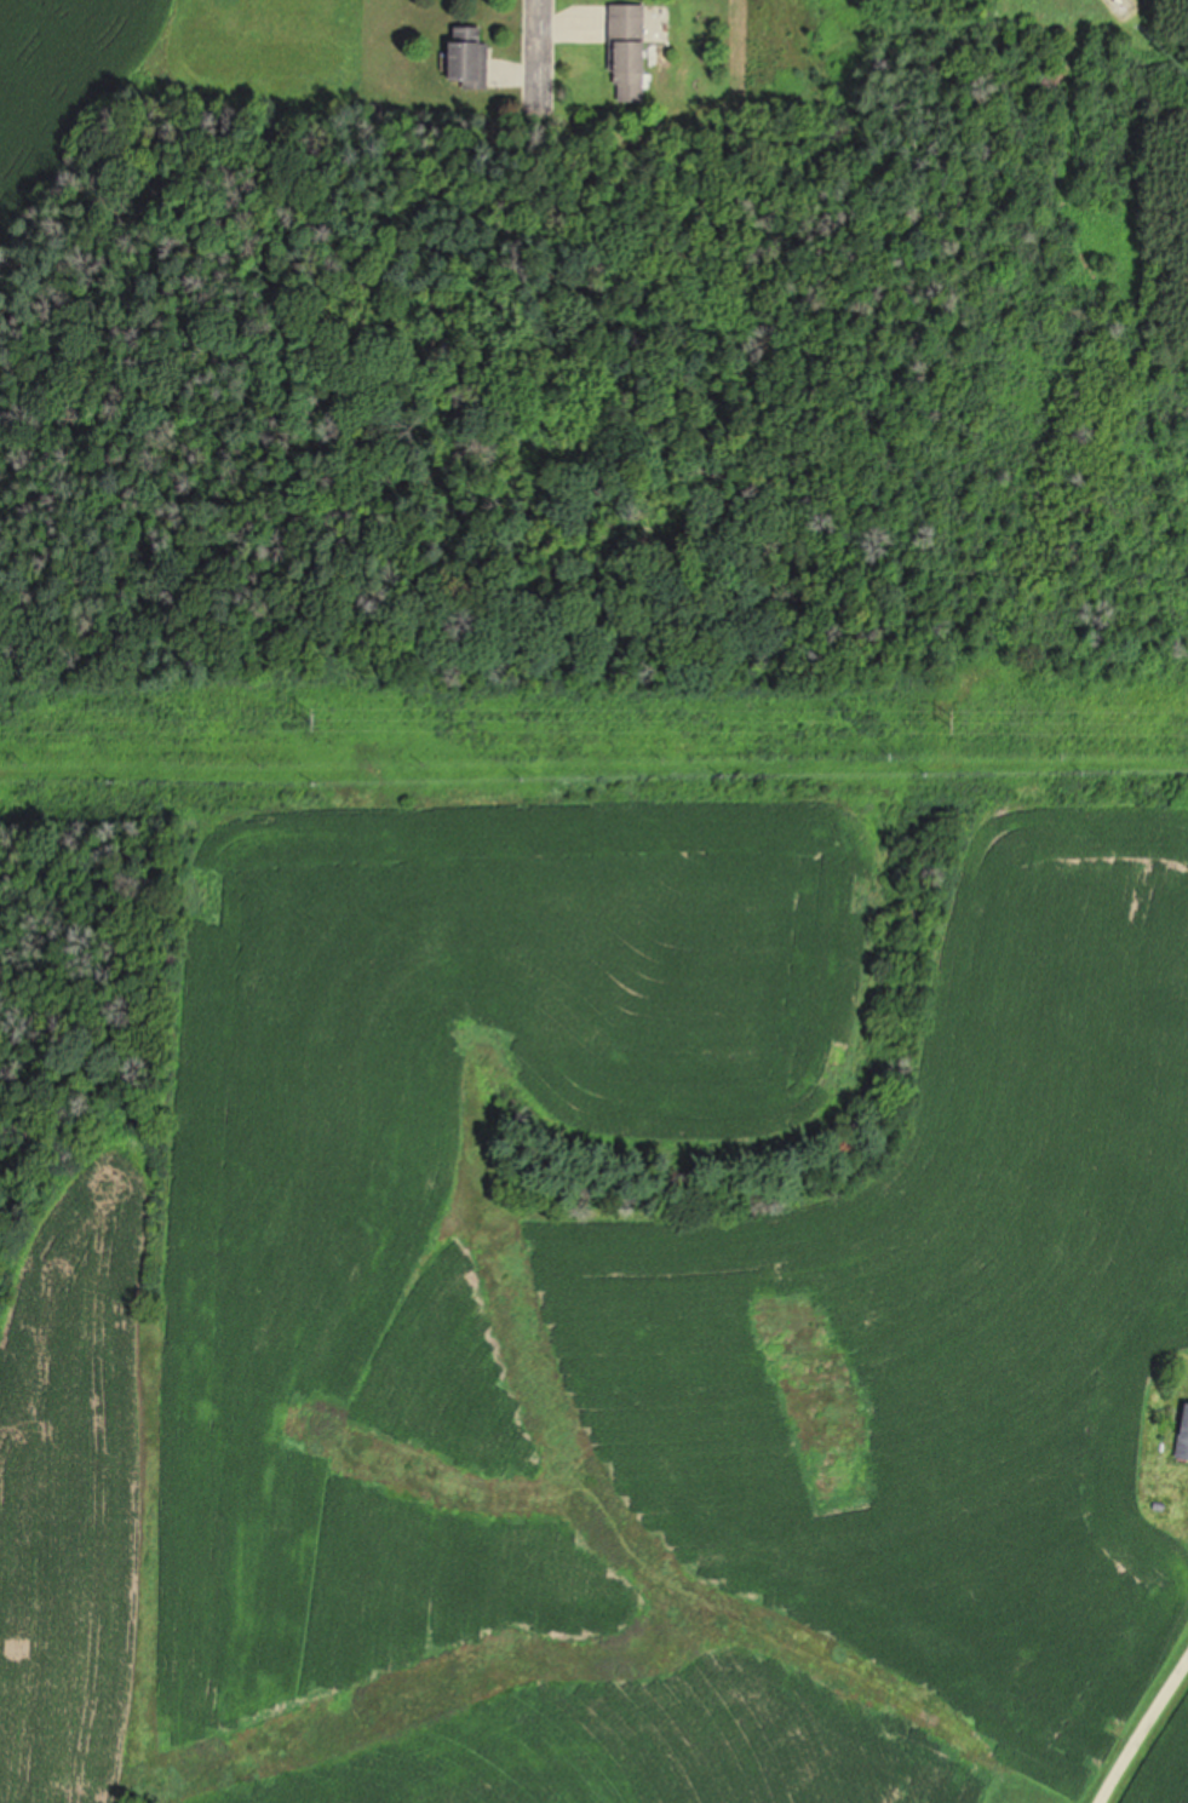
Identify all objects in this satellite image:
road: (536, 48)
building: (630, 53)
building: (474, 54)
power tower: (314, 717)
power tower: (953, 720)
building: (1184, 1436)
road: (1138, 1723)

